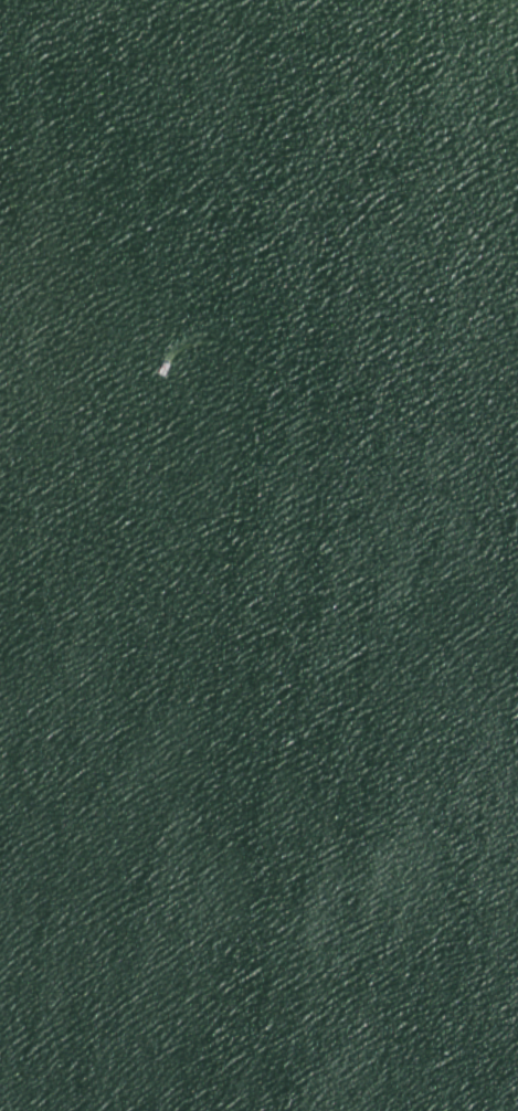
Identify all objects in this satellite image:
park: (258, 555)
river: (226, 902)

